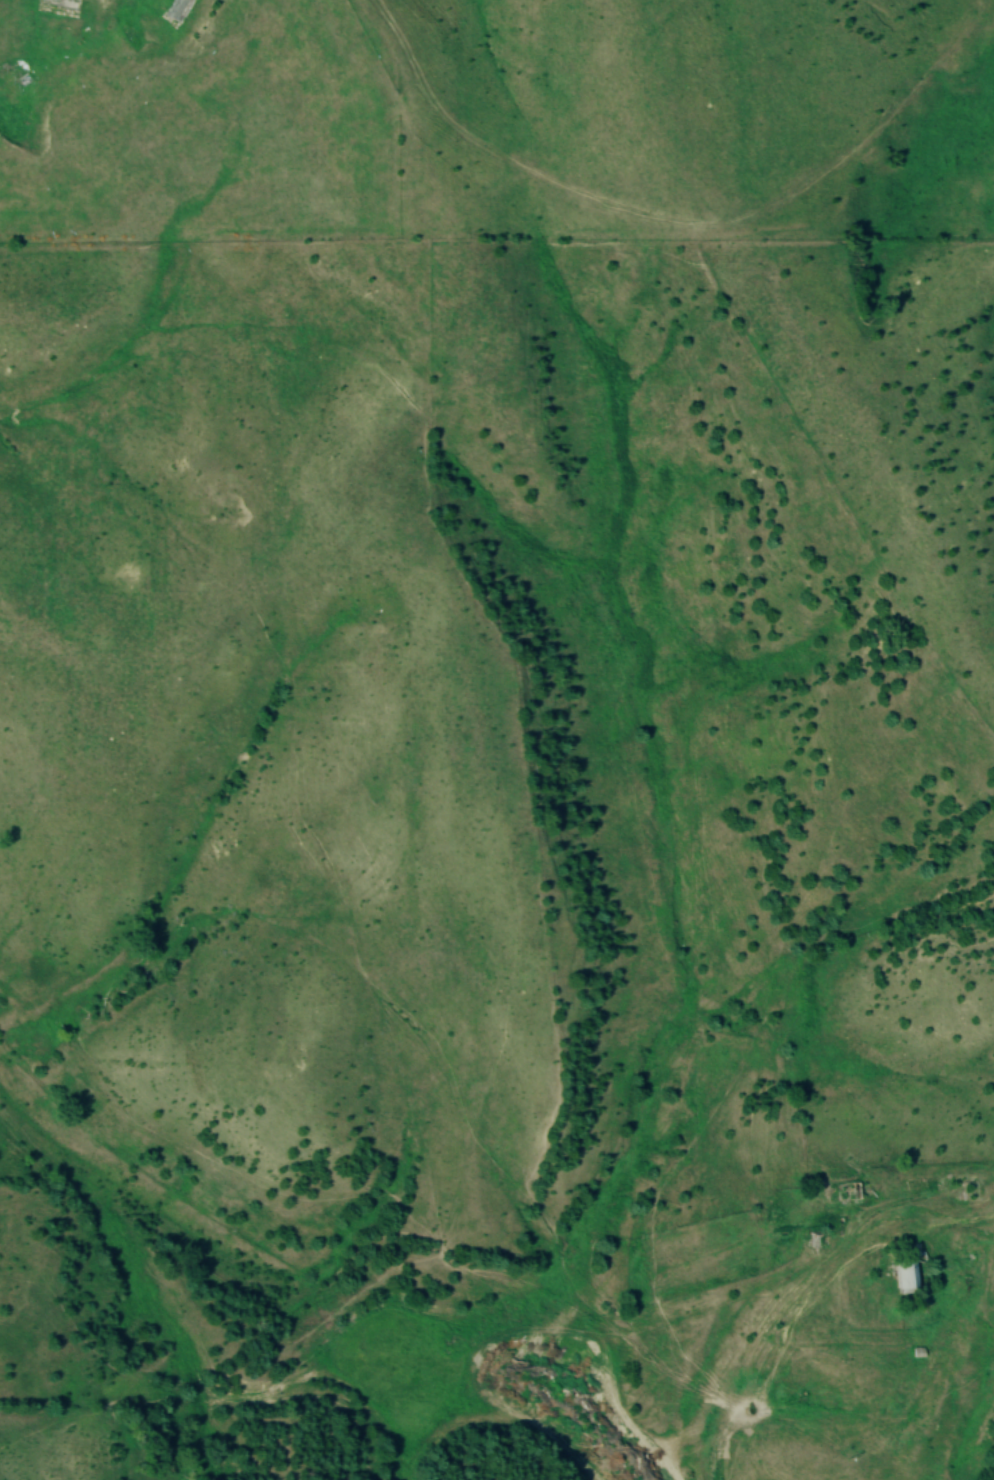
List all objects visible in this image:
building: (60, 4)
building: (815, 1239)
building: (904, 1277)
road: (762, 1337)

